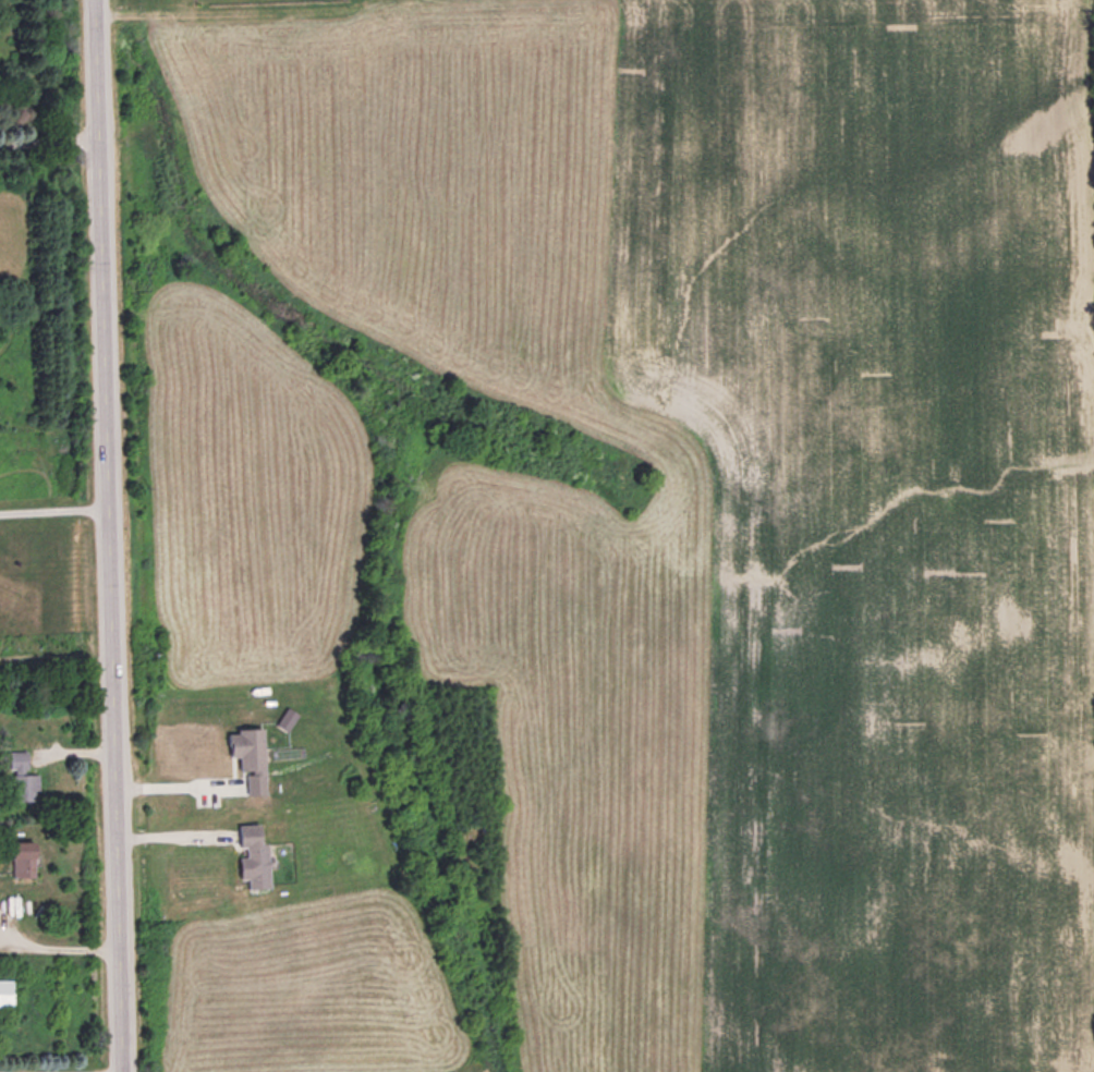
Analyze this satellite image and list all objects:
road: (49, 137)
road: (54, 509)
road: (109, 535)
building: (252, 755)
building: (23, 777)
building: (256, 853)
building: (25, 856)

